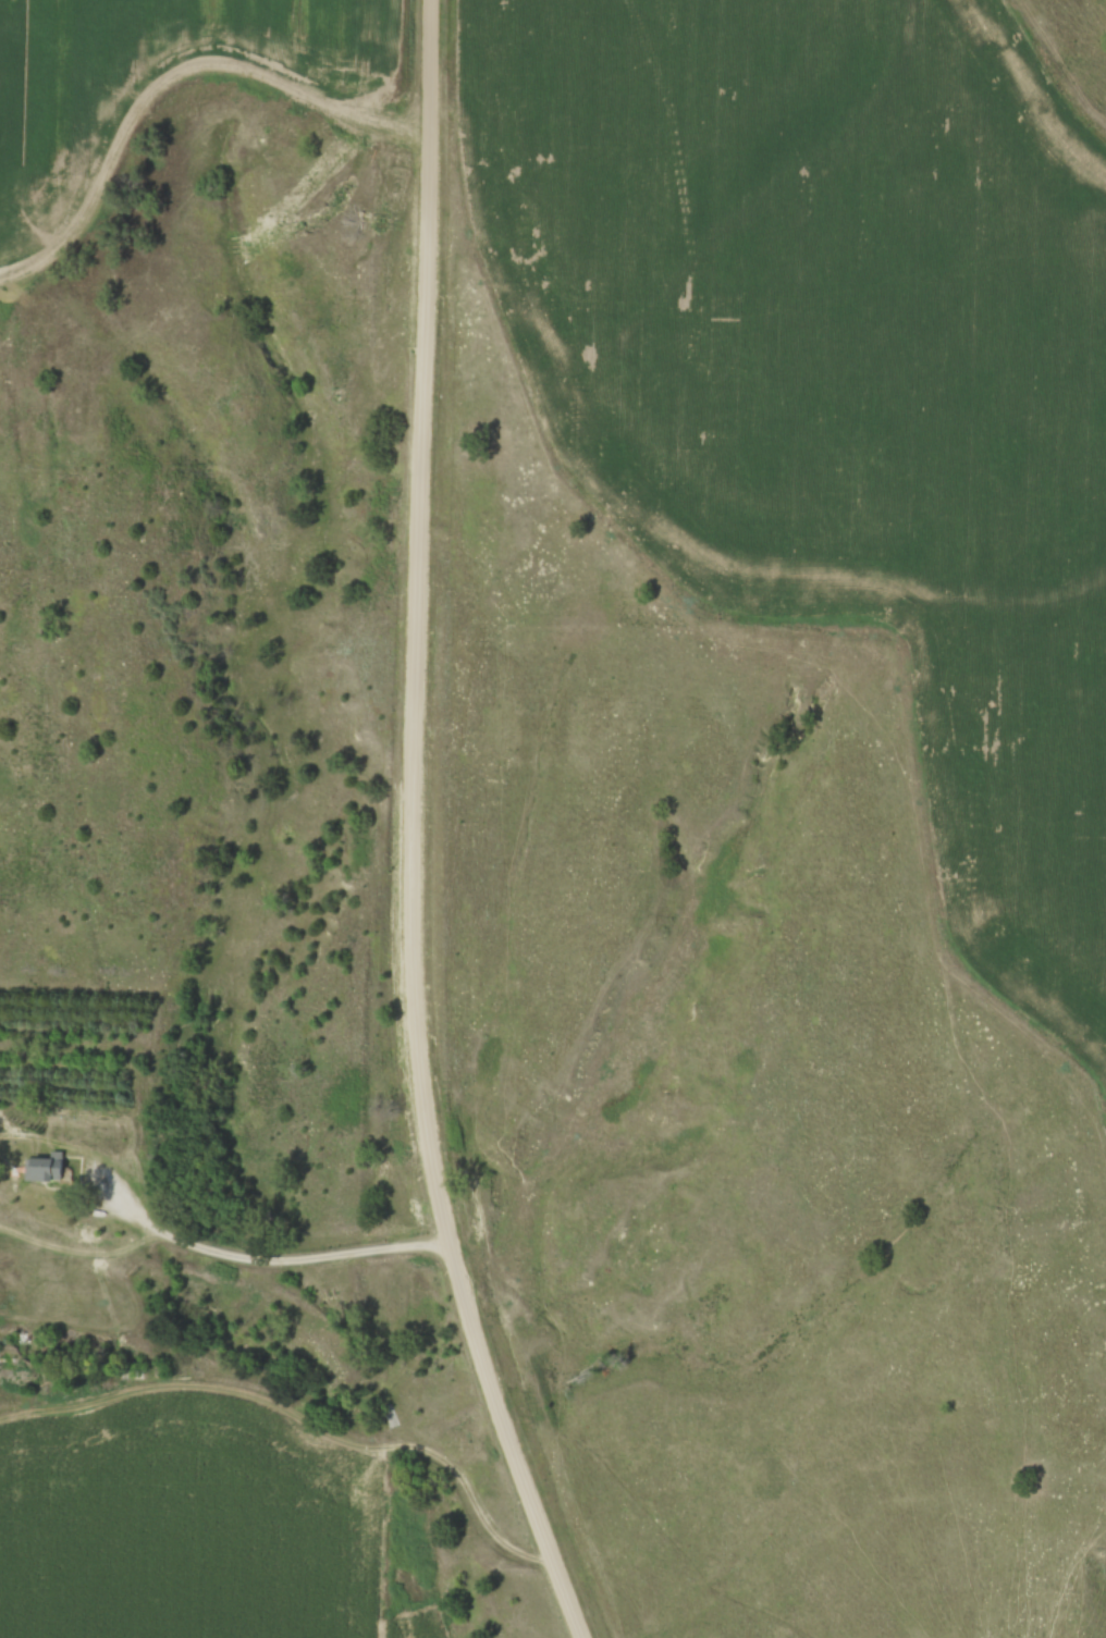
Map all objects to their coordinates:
road: (409, 830)
building: (45, 1168)
road: (258, 1261)

